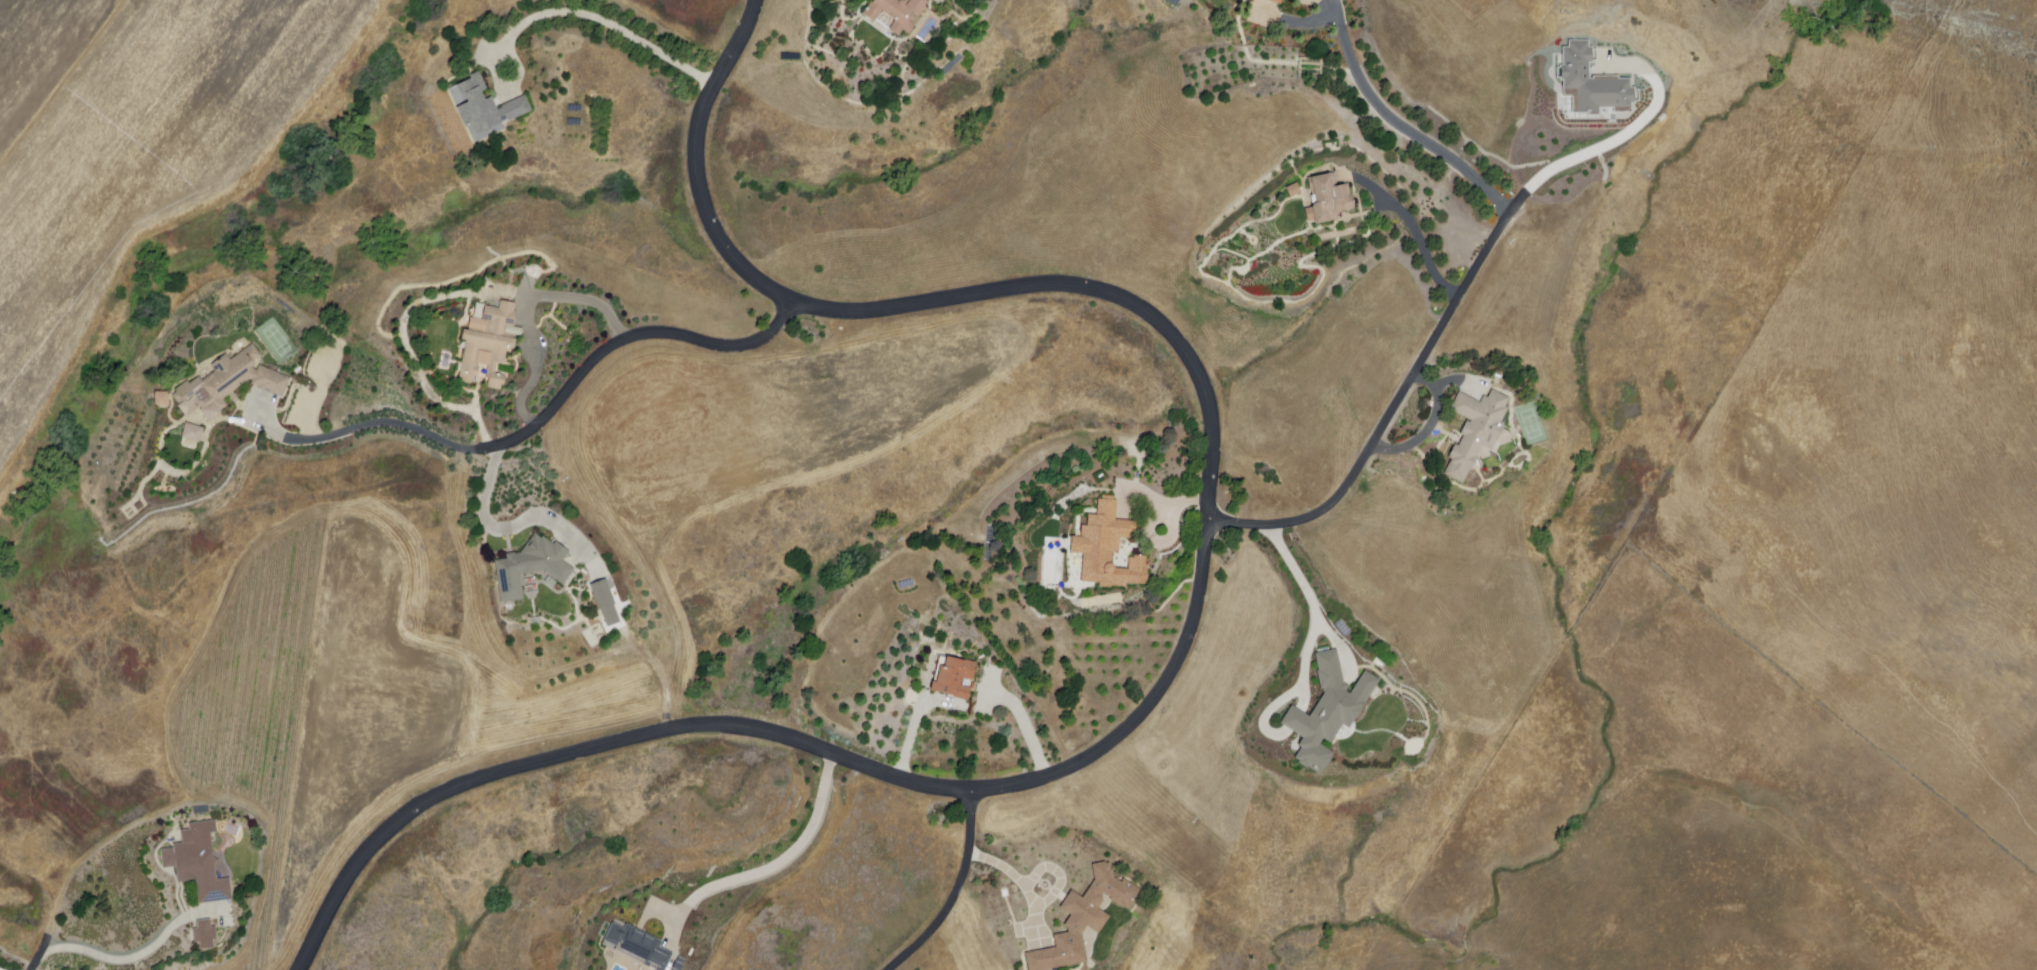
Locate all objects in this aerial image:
building: (1249, 1)
building: (1272, 2)
building: (896, 14)
crop: (790, 18)
road: (608, 20)
road: (64, 84)
building: (1593, 84)
building: (490, 107)
road: (1402, 129)
road: (1621, 141)
building: (1328, 202)
road: (1424, 249)
park: (278, 342)
building: (492, 345)
road: (538, 375)
building: (230, 384)
building: (162, 398)
road: (548, 408)
road: (1392, 408)
park: (1532, 426)
road: (1431, 428)
building: (193, 432)
building: (1476, 432)
road: (1179, 504)
road: (518, 530)
building: (1107, 549)
building: (534, 569)
building: (607, 604)
road: (1317, 608)
road: (1186, 635)
building: (952, 679)
building: (1327, 713)
road: (913, 725)
road: (1023, 726)
building: (201, 864)
road: (770, 865)
road: (1057, 878)
road: (1021, 881)
road: (953, 893)
building: (1083, 920)
building: (207, 936)
building: (639, 943)
road: (44, 952)
road: (137, 958)
building: (679, 963)

